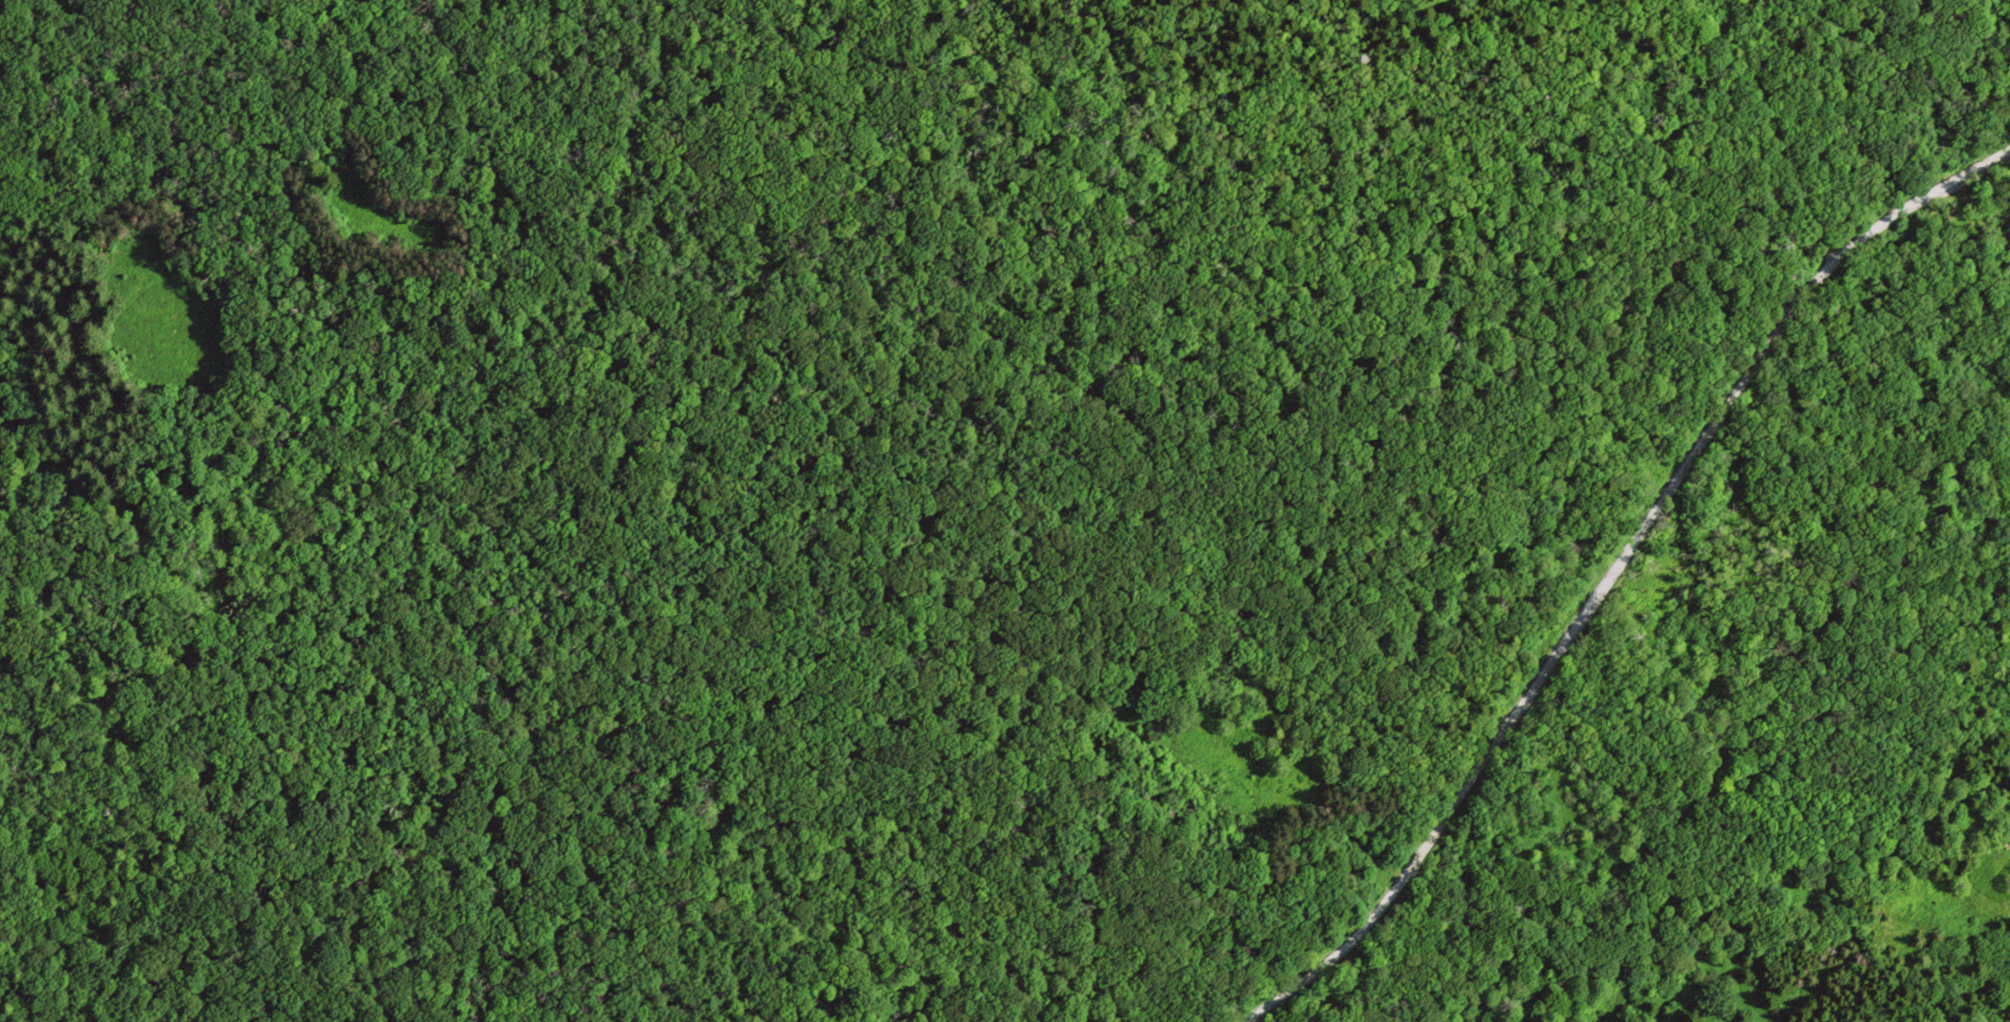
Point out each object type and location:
road: (1902, 77)
road: (1774, 128)
road: (1941, 189)
road: (1570, 635)
road: (597, 961)

